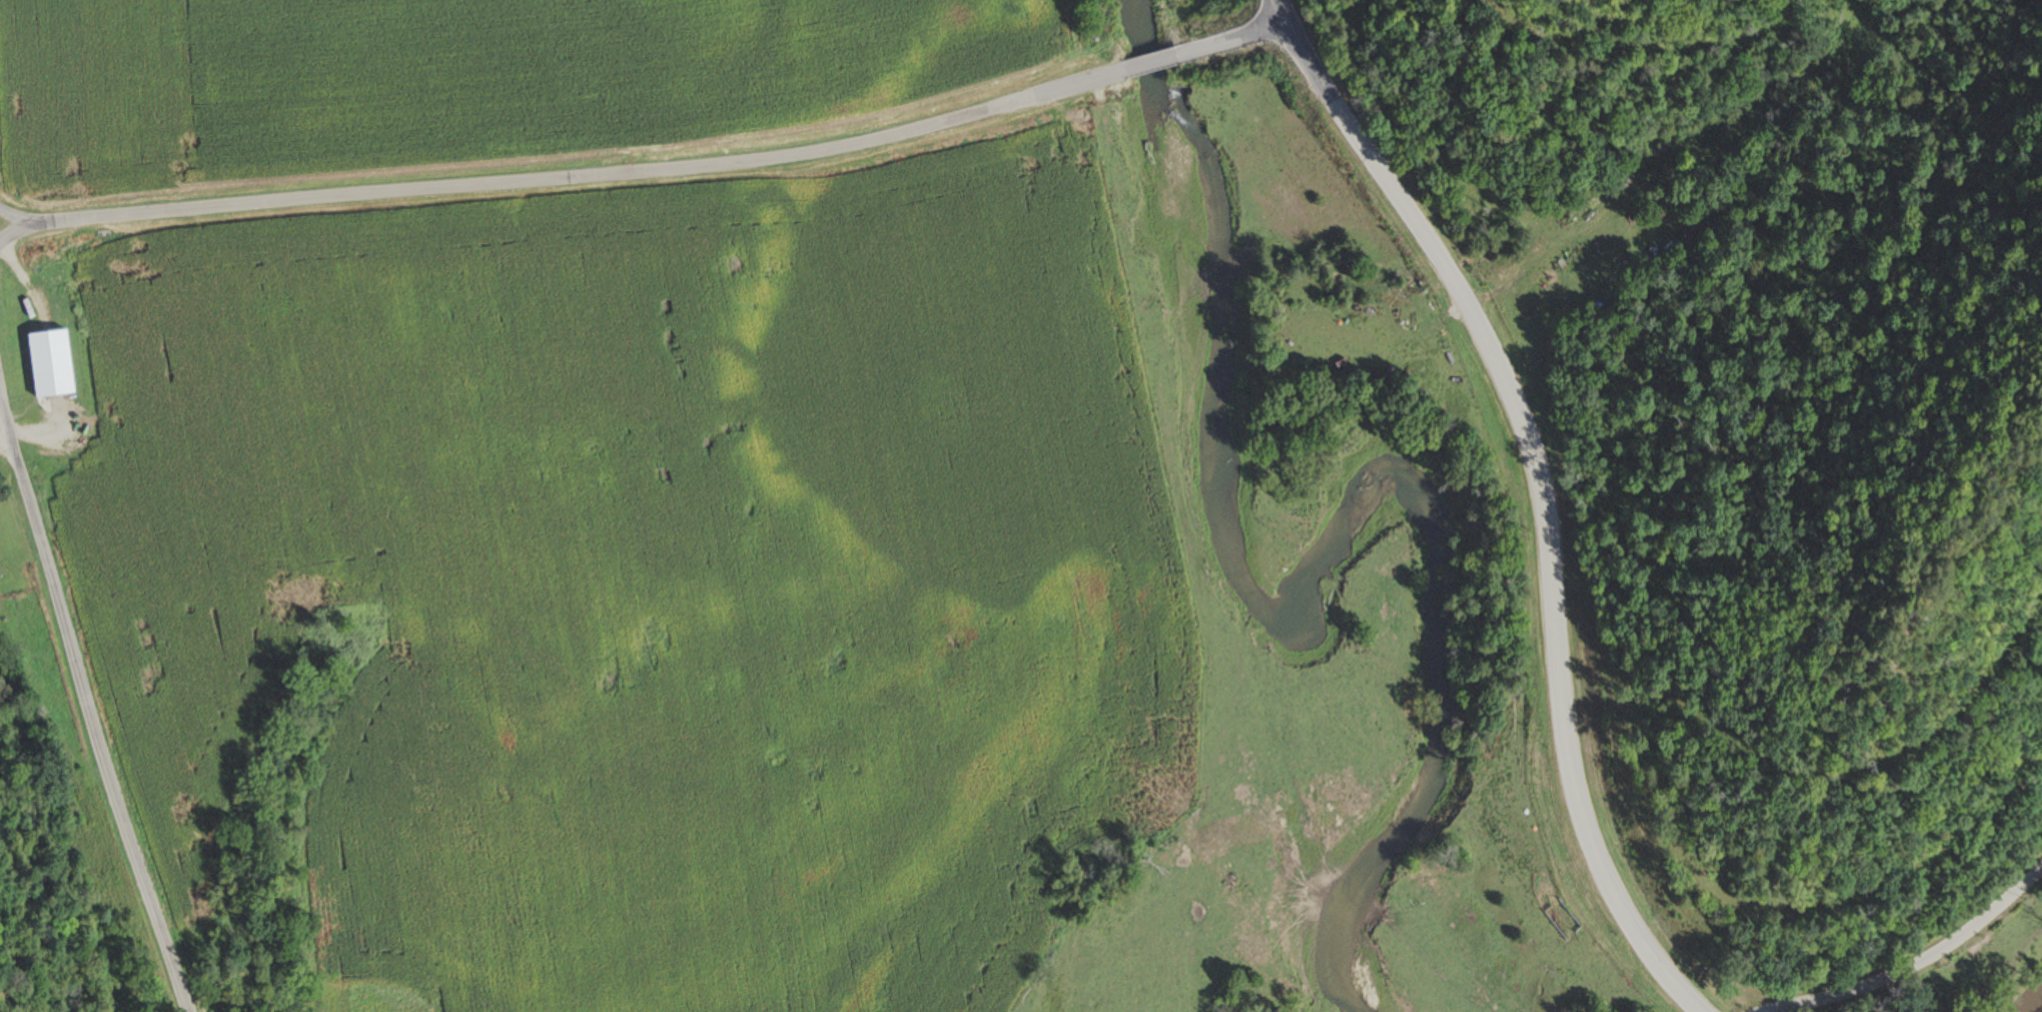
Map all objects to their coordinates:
road: (1231, 40)
road: (1148, 64)
road: (564, 179)
building: (17, 378)
road: (1541, 490)
road: (86, 710)
road: (1919, 963)

